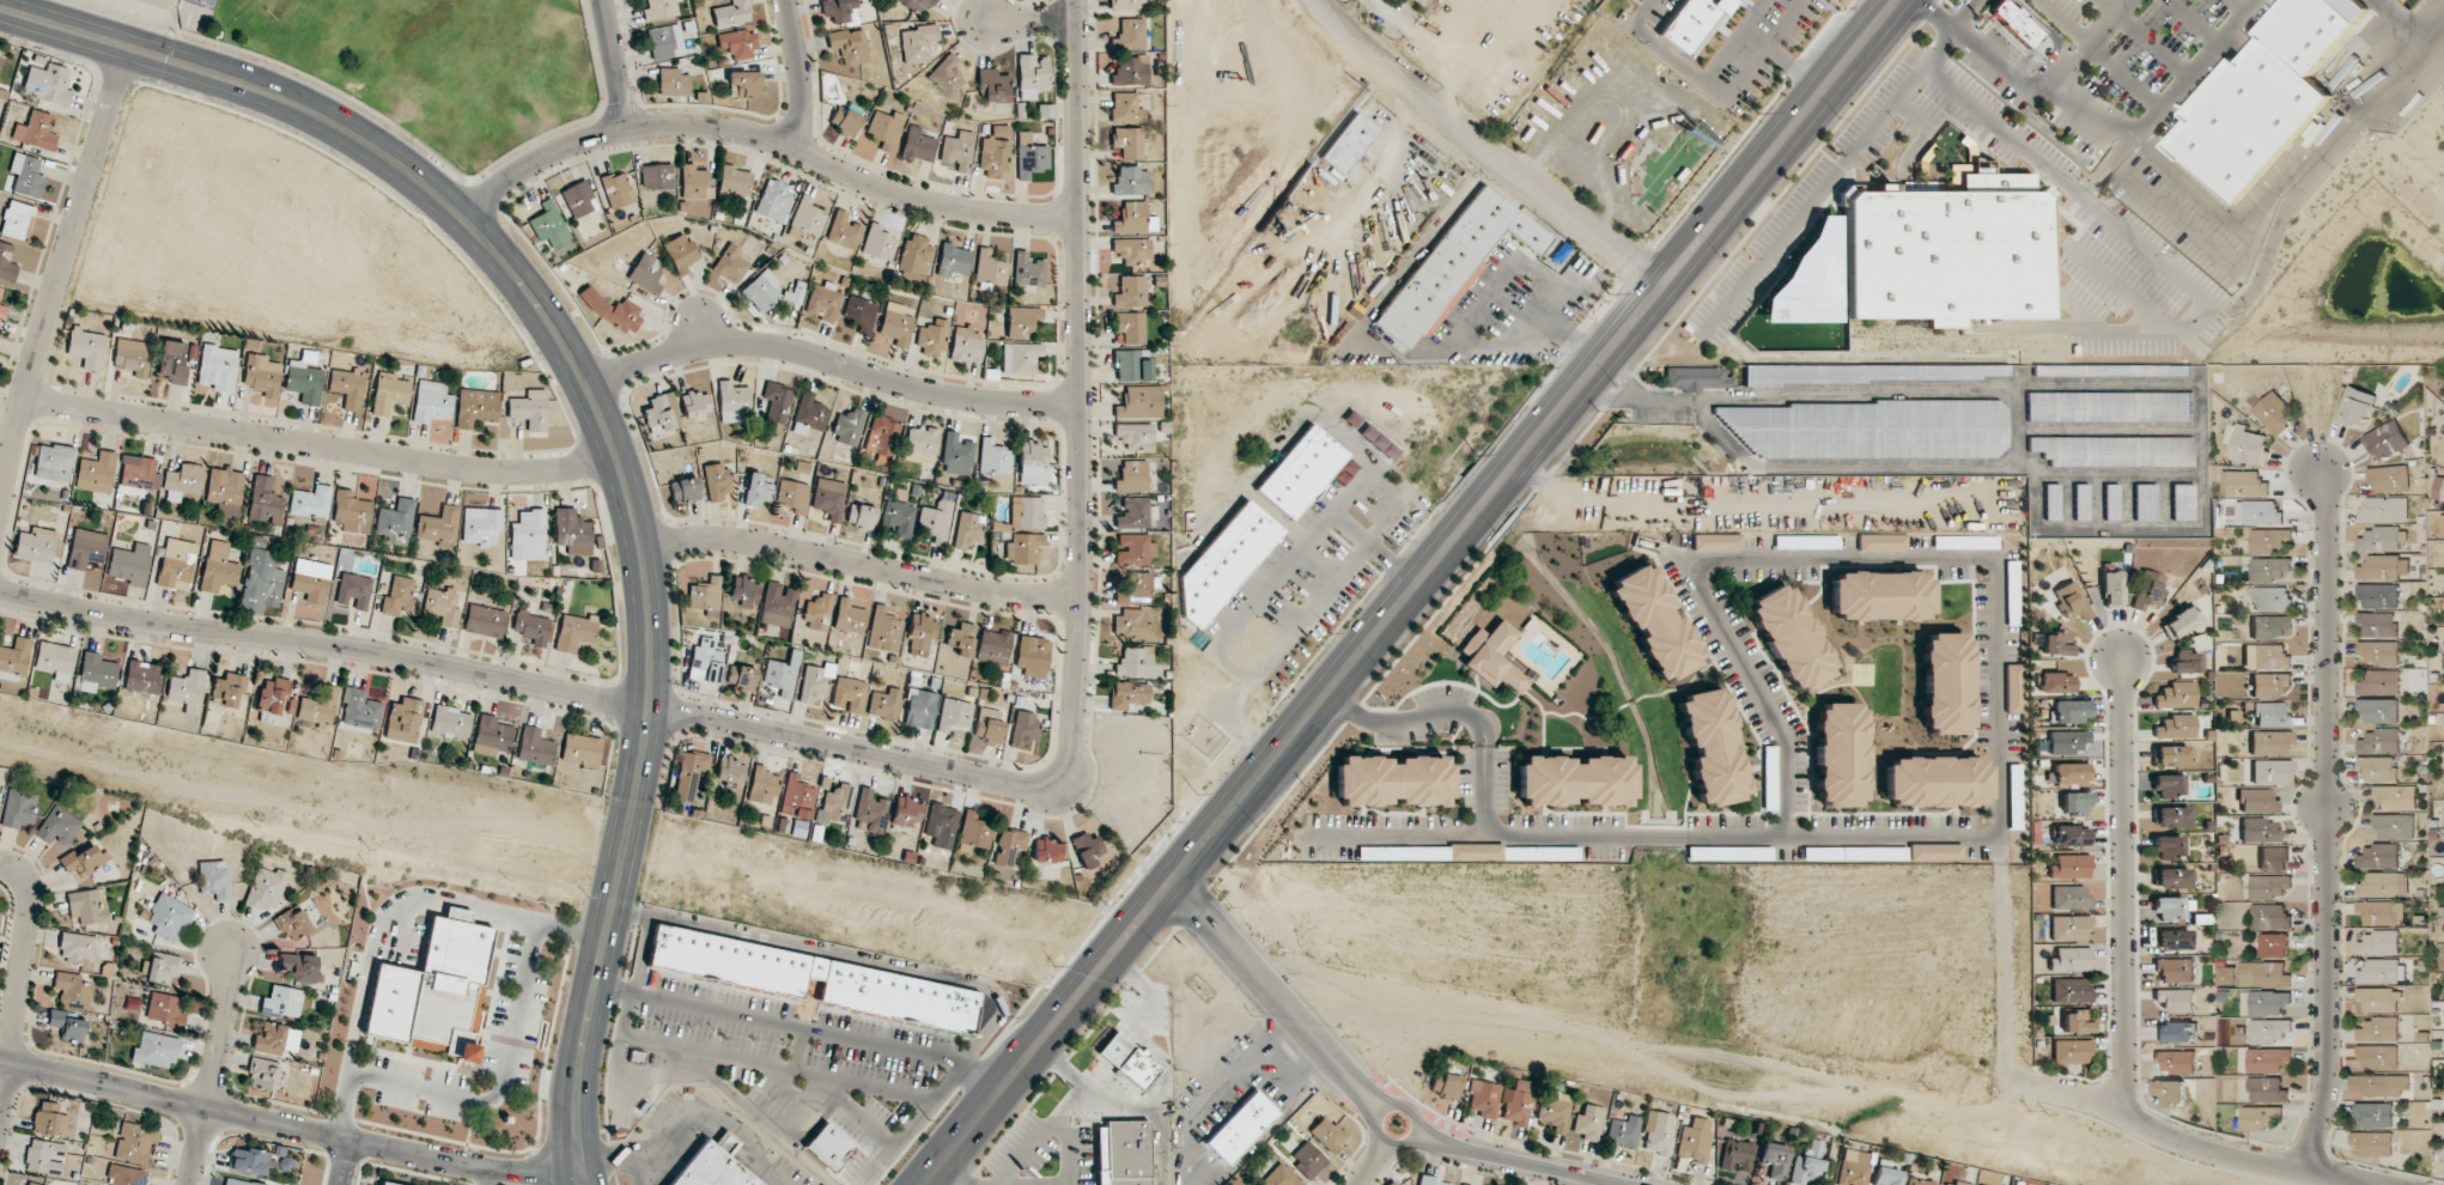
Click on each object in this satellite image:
building: (2416, 1)
building: (918, 5)
building: (1126, 5)
building: (659, 10)
building: (838, 11)
building: (731, 13)
road: (1959, 18)
road: (1028, 19)
building: (2014, 23)
building: (1694, 24)
road: (2408, 25)
building: (1131, 34)
building: (665, 41)
building: (738, 42)
building: (917, 43)
building: (849, 45)
building: (0, 49)
road: (614, 63)
building: (1130, 71)
road: (800, 74)
building: (946, 75)
building: (1031, 75)
building: (47, 83)
building: (673, 83)
building: (744, 84)
building: (992, 85)
building: (2263, 97)
building: (1125, 108)
power tower: (1755, 113)
building: (845, 121)
road: (2090, 126)
building: (884, 128)
building: (35, 130)
park: (1623, 130)
road: (762, 136)
building: (1127, 141)
building: (1349, 142)
building: (917, 145)
road: (1482, 148)
building: (956, 151)
building: (995, 152)
building: (1031, 160)
building: (26, 175)
building: (656, 176)
building: (734, 181)
building: (1130, 181)
building: (616, 189)
building: (694, 190)
building: (578, 199)
building: (773, 201)
building: (807, 217)
building: (1133, 218)
building: (16, 219)
building: (549, 225)
building: (843, 231)
building: (878, 241)
building: (1131, 250)
building: (1946, 250)
building: (680, 254)
building: (914, 254)
building: (953, 260)
building: (6, 262)
building: (730, 263)
building: (1454, 263)
building: (989, 267)
road: (59, 269)
building: (1027, 269)
building: (646, 272)
building: (0, 290)
building: (761, 291)
building: (1130, 291)
building: (794, 293)
power tower: (1606, 293)
building: (823, 302)
building: (612, 309)
building: (1, 312)
building: (861, 312)
building: (1021, 321)
building: (895, 324)
building: (1129, 327)
building: (931, 339)
building: (966, 345)
building: (86, 347)
building: (132, 355)
building: (1020, 358)
building: (172, 361)
road: (829, 361)
building: (1130, 366)
building: (217, 367)
building: (2111, 370)
building: (1872, 372)
road: (580, 373)
building: (262, 375)
building: (1695, 378)
building: (304, 379)
building: (347, 387)
road: (1077, 390)
building: (389, 393)
building: (431, 402)
building: (731, 402)
building: (776, 402)
building: (1138, 402)
building: (695, 403)
building: (475, 407)
building: (2109, 407)
building: (2355, 407)
building: (529, 409)
building: (659, 412)
building: (2274, 413)
building: (808, 414)
building: (847, 427)
building: (1867, 429)
building: (880, 434)
building: (1135, 437)
building: (2385, 440)
building: (1378, 442)
building: (919, 444)
road: (318, 445)
building: (2248, 445)
building: (2112, 450)
building: (955, 455)
power tower: (1475, 455)
building: (992, 456)
building: (1029, 457)
building: (53, 461)
building: (1302, 472)
building: (96, 473)
building: (138, 474)
building: (1131, 476)
building: (2389, 478)
building: (182, 481)
building: (719, 484)
building: (2244, 484)
building: (2439, 488)
building: (683, 490)
building: (225, 491)
building: (756, 491)
building: (791, 494)
building: (828, 498)
building: (265, 500)
building: (2050, 502)
building: (2080, 502)
building: (2110, 502)
building: (2144, 502)
building: (2181, 502)
building: (310, 503)
building: (2385, 509)
building: (352, 511)
building: (1025, 512)
building: (2258, 512)
building: (1135, 513)
building: (861, 516)
building: (899, 517)
building: (395, 519)
building: (936, 521)
building: (2443, 524)
building: (438, 525)
building: (481, 525)
building: (967, 529)
building: (572, 531)
building: (528, 535)
building: (2379, 539)
building: (2270, 540)
building: (1716, 542)
building: (1881, 542)
building: (35, 545)
building: (1023, 547)
building: (86, 548)
building: (1132, 549)
building: (1223, 563)
building: (129, 564)
building: (176, 564)
road: (1835, 564)
road: (861, 565)
building: (218, 567)
building: (2381, 567)
building: (310, 579)
building: (261, 581)
building: (2012, 585)
building: (1132, 587)
building: (2111, 588)
building: (2147, 589)
building: (353, 590)
building: (743, 590)
road: (1409, 591)
building: (2379, 595)
building: (399, 596)
building: (705, 596)
building: (1879, 596)
building: (2273, 598)
building: (2072, 601)
building: (777, 604)
building: (442, 606)
building: (849, 616)
building: (485, 620)
building: (1653, 622)
building: (2178, 622)
building: (2378, 624)
building: (1130, 625)
building: (531, 627)
building: (2270, 627)
building: (883, 630)
building: (573, 632)
building: (919, 633)
power tower: (1329, 633)
building: (1788, 637)
building: (960, 638)
building: (2055, 644)
building: (992, 646)
building: (2378, 652)
building: (1032, 656)
building: (1491, 656)
building: (2267, 656)
building: (14, 658)
building: (54, 660)
building: (705, 661)
building: (2184, 661)
building: (1132, 662)
building: (97, 670)
building: (783, 674)
building: (142, 676)
building: (742, 676)
building: (1945, 682)
building: (2055, 682)
road: (533, 683)
building: (2381, 683)
building: (814, 685)
building: (2270, 685)
building: (2013, 688)
building: (227, 689)
building: (186, 691)
building: (849, 694)
building: (1127, 694)
building: (2175, 695)
building: (274, 697)
building: (884, 704)
building: (318, 706)
building: (359, 709)
building: (919, 709)
road: (1448, 710)
building: (2068, 711)
building: (2378, 711)
building: (954, 715)
building: (2270, 715)
building: (403, 719)
building: (450, 722)
building: (989, 724)
building: (2175, 727)
building: (1023, 729)
building: (491, 735)
building: (2066, 741)
building: (2379, 741)
building: (2269, 742)
building: (535, 747)
building: (1710, 747)
building: (580, 750)
building: (1838, 754)
building: (2171, 755)
building: (2378, 768)
building: (730, 770)
building: (2272, 772)
building: (689, 773)
building: (2068, 773)
building: (1392, 780)
building: (1574, 780)
building: (1935, 780)
building: (761, 785)
building: (2168, 785)
power tower: (1194, 795)
building: (2397, 796)
building: (796, 797)
building: (2256, 801)
building: (2074, 802)
building: (833, 804)
building: (19, 808)
building: (906, 810)
building: (869, 813)
building: (2172, 816)
building: (941, 825)
road: (2326, 825)
building: (57, 826)
building: (2395, 826)
road: (1648, 828)
building: (2260, 831)
building: (973, 832)
building: (2071, 835)
building: (1008, 846)
building: (2166, 846)
building: (1047, 850)
building: (1089, 850)
building: (1475, 851)
building: (1934, 851)
building: (2379, 856)
building: (2273, 858)
building: (83, 861)
building: (2069, 867)
building: (2172, 877)
building: (214, 879)
building: (2385, 885)
building: (2269, 886)
road: (2121, 887)
building: (265, 888)
building: (2069, 898)
building: (86, 905)
building: (2168, 908)
building: (2382, 913)
building: (169, 917)
road: (385, 917)
building: (2270, 917)
building: (292, 924)
building: (2071, 928)
building: (2172, 940)
building: (2378, 943)
building: (2274, 944)
building: (75, 947)
building: (2071, 960)
power tower: (1052, 966)
building: (163, 967)
building: (300, 967)
building: (2175, 970)
building: (2382, 971)
road: (19, 974)
building: (2226, 974)
building: (2263, 974)
building: (816, 980)
building: (433, 987)
building: (71, 989)
building: (2071, 990)
building: (2175, 999)
building: (2379, 999)
building: (281, 1002)
building: (2269, 1002)
building: (162, 1008)
building: (2077, 1021)
building: (66, 1026)
road: (801, 1027)
road: (1144, 1029)
building: (2379, 1029)
building: (2269, 1031)
building: (2175, 1032)
building: (275, 1039)
building: (154, 1050)
building: (2071, 1051)
building: (2379, 1057)
road: (1271, 1059)
building: (2268, 1059)
building: (2176, 1061)
building: (1127, 1063)
road: (213, 1066)
building: (262, 1072)
road: (501, 1081)
building: (1445, 1084)
building: (2378, 1084)
building: (2268, 1089)
road: (1358, 1090)
building: (2171, 1092)
building: (1483, 1098)
road: (1126, 1100)
building: (1519, 1102)
road: (1065, 1106)
building: (1555, 1110)
building: (2375, 1114)
building: (2261, 1117)
building: (49, 1119)
power tower: (926, 1120)
building: (1587, 1122)
road: (569, 1125)
road: (1046, 1125)
road: (582, 1126)
road: (294, 1128)
building: (1240, 1128)
building: (1623, 1131)
building: (1656, 1132)
building: (1327, 1134)
building: (1692, 1140)
building: (135, 1142)
building: (2373, 1143)
building: (828, 1148)
building: (1121, 1153)
road: (1378, 1155)
building: (1735, 1155)
building: (43, 1156)
road: (2248, 1156)
building: (1307, 1159)
building: (1773, 1160)
building: (251, 1161)
road: (345, 1162)
building: (713, 1165)
building: (1806, 1165)
building: (1850, 1169)
road: (954, 1173)
building: (1885, 1174)
building: (126, 1175)
building: (1279, 1177)
building: (237, 1181)
building: (1433, 1181)
building: (1919, 1181)
building: (30, 1183)
building: (1393, 1183)
building: (1952, 1183)
building: (387, 1184)
building: (1463, 1184)

